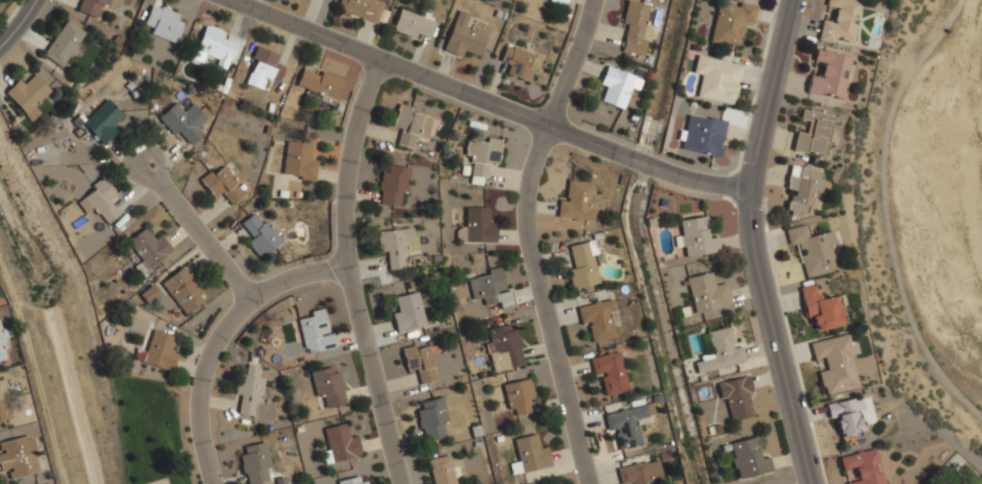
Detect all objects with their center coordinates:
building: (558, 2)
building: (92, 7)
building: (361, 8)
building: (840, 21)
building: (731, 22)
building: (163, 23)
road: (18, 24)
building: (412, 24)
building: (634, 29)
building: (463, 37)
building: (213, 43)
building: (63, 44)
building: (517, 62)
building: (262, 69)
building: (829, 74)
building: (717, 79)
building: (320, 82)
building: (616, 86)
building: (27, 95)
road: (485, 103)
building: (103, 121)
building: (182, 122)
building: (409, 125)
building: (814, 133)
building: (702, 135)
building: (482, 155)
building: (298, 162)
building: (221, 184)
building: (392, 185)
building: (801, 188)
building: (98, 201)
building: (576, 201)
road: (884, 216)
road: (201, 226)
building: (476, 226)
building: (260, 235)
road: (534, 238)
building: (695, 238)
road: (756, 242)
building: (396, 245)
building: (147, 249)
building: (813, 250)
building: (583, 266)
road: (347, 274)
building: (490, 288)
building: (182, 289)
building: (706, 293)
building: (821, 308)
building: (408, 313)
building: (598, 319)
building: (315, 331)
road: (221, 339)
building: (504, 347)
building: (2, 350)
building: (160, 351)
building: (720, 351)
building: (419, 363)
building: (835, 363)
building: (610, 372)
building: (328, 386)
building: (250, 394)
building: (518, 396)
building: (736, 397)
building: (4, 403)
building: (432, 418)
building: (847, 419)
building: (625, 426)
park: (151, 429)
building: (340, 444)
building: (529, 455)
building: (18, 457)
building: (748, 459)
building: (254, 463)
building: (861, 468)
building: (442, 470)
building: (639, 472)
building: (351, 481)

